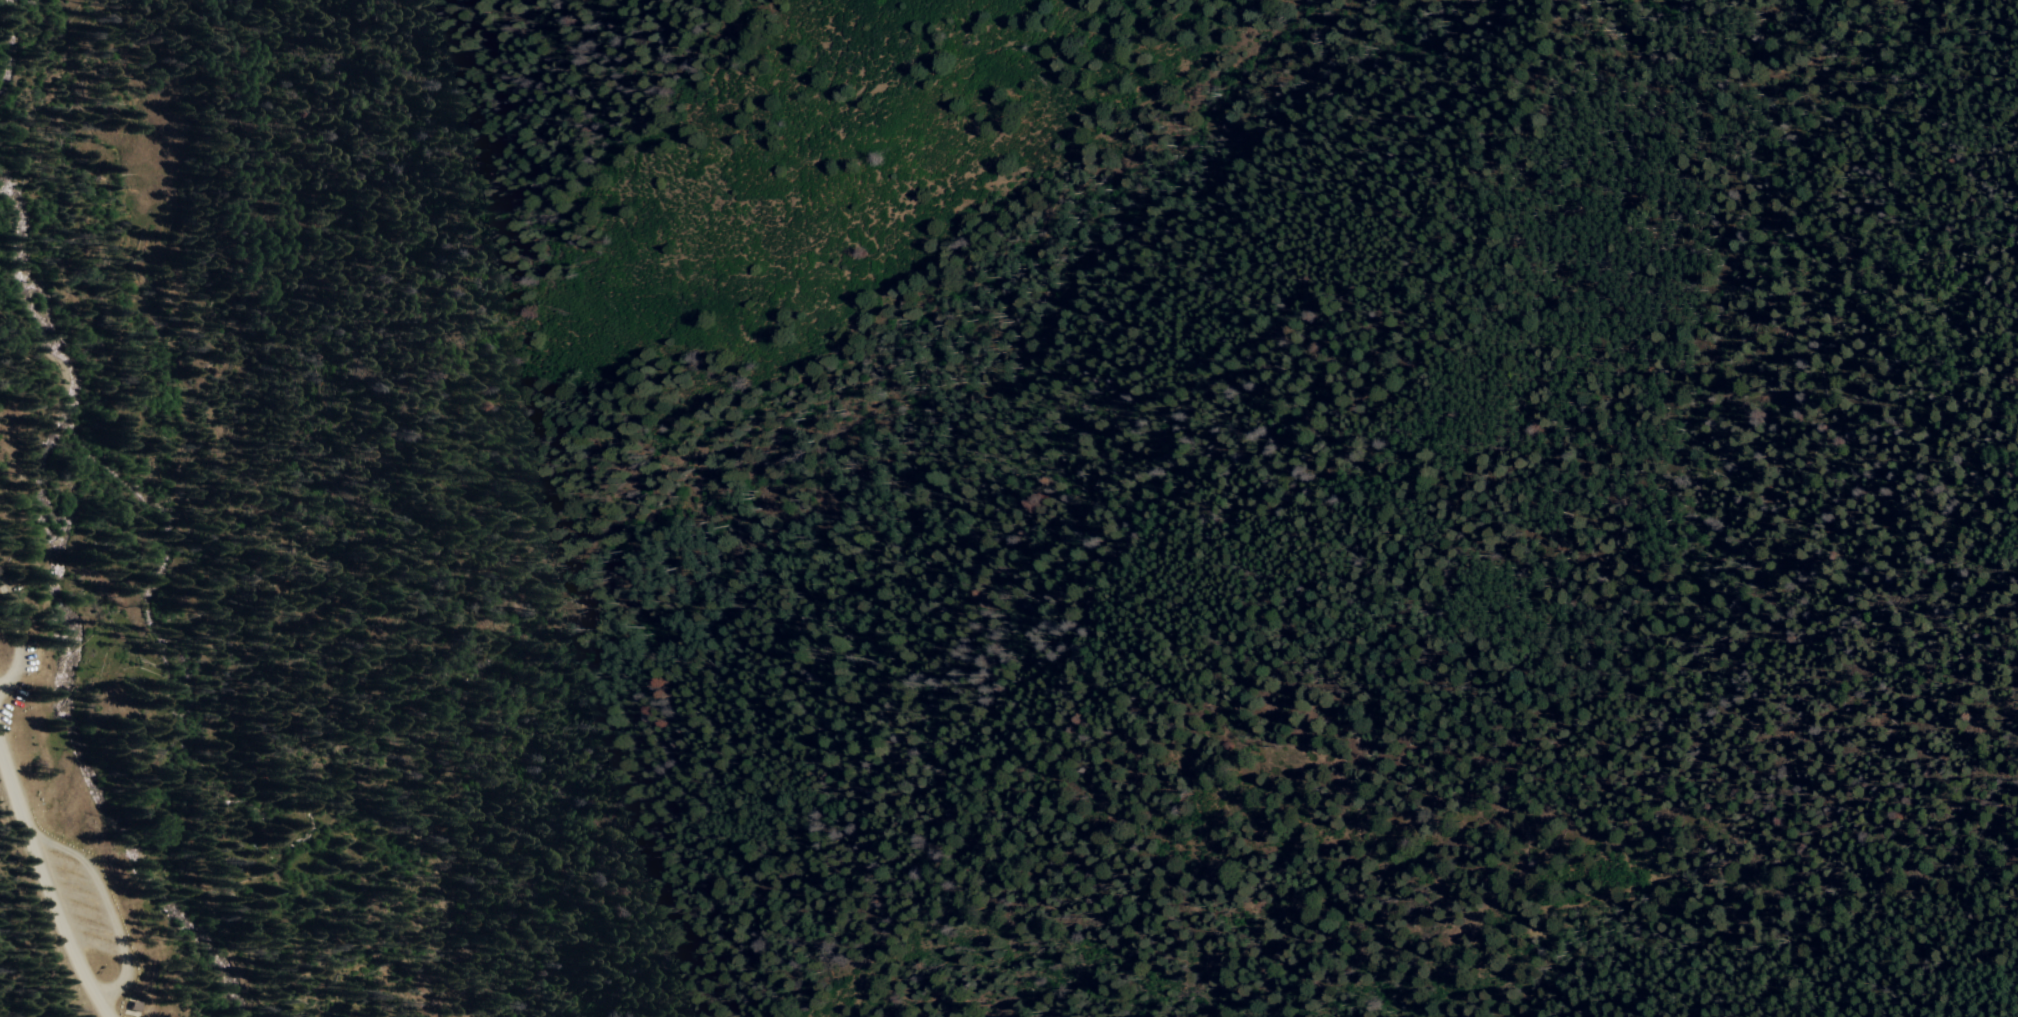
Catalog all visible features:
road: (1007, 402)
river: (162, 612)
road: (18, 635)
parking lot: (26, 654)
road: (45, 881)
road: (100, 1009)

